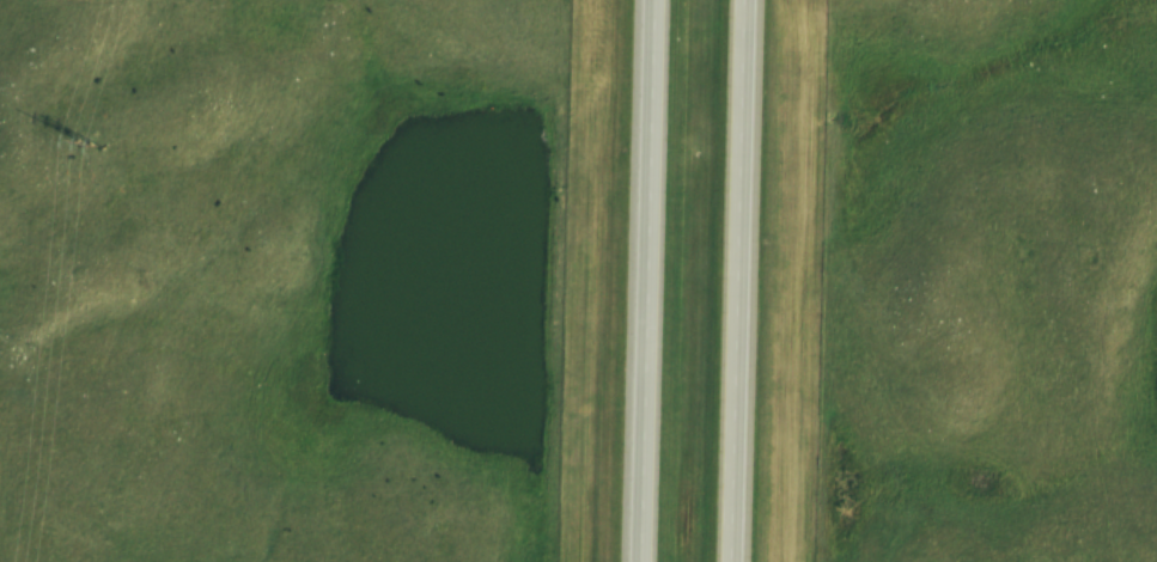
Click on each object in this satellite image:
power tower: (77, 127)
road: (650, 280)
road: (753, 281)

